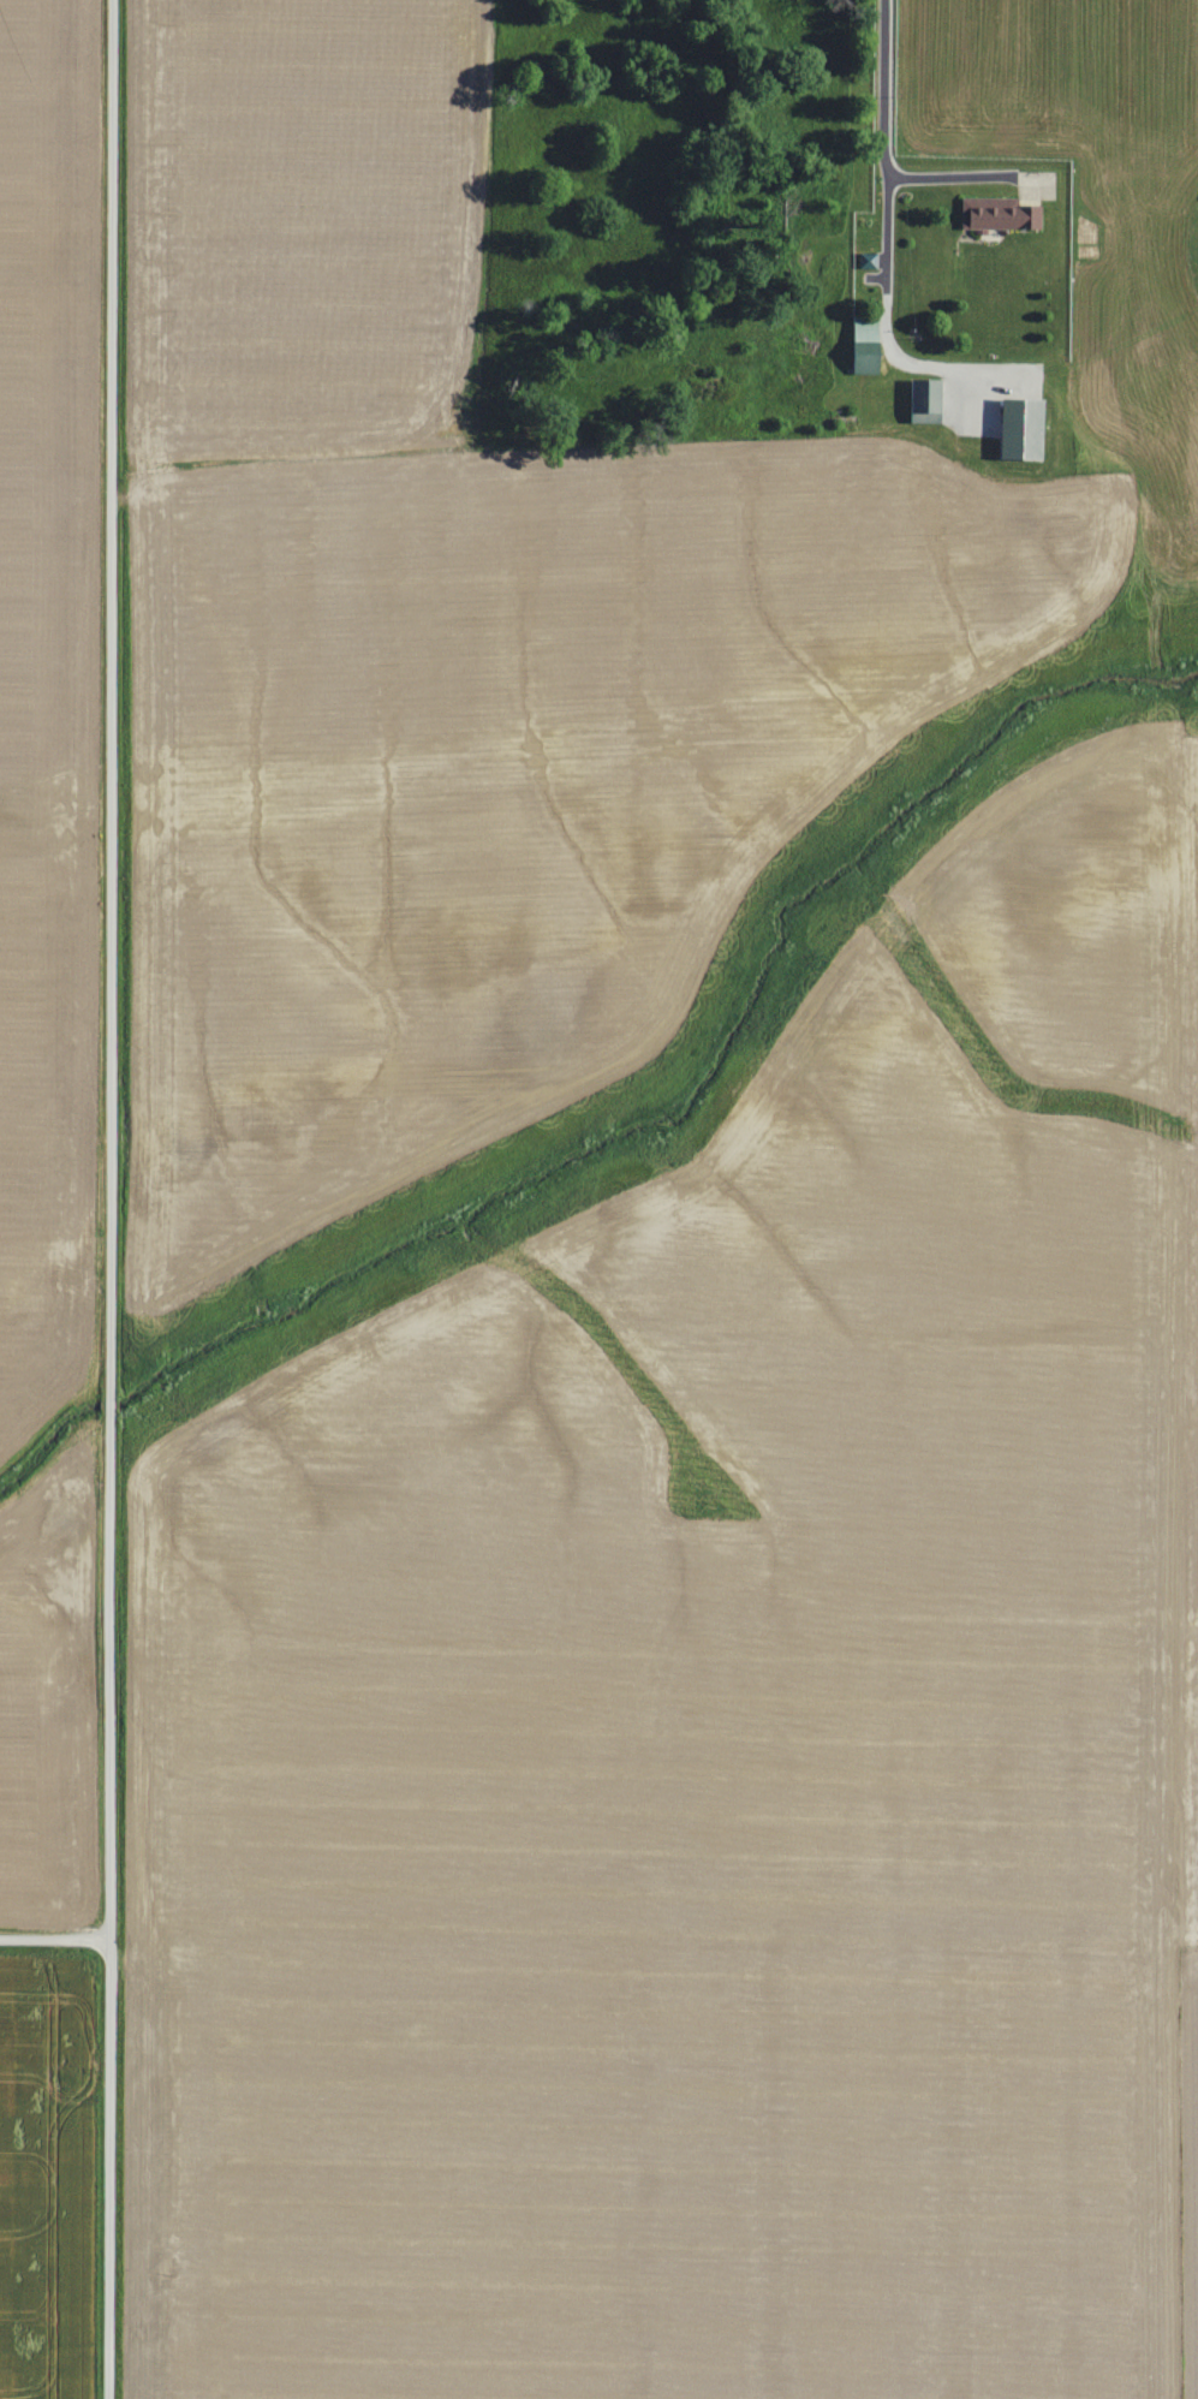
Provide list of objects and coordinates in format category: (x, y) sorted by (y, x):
road: (880, 131)
building: (1001, 214)
building: (929, 399)
building: (1027, 428)
road: (91, 1199)
road: (53, 1939)

